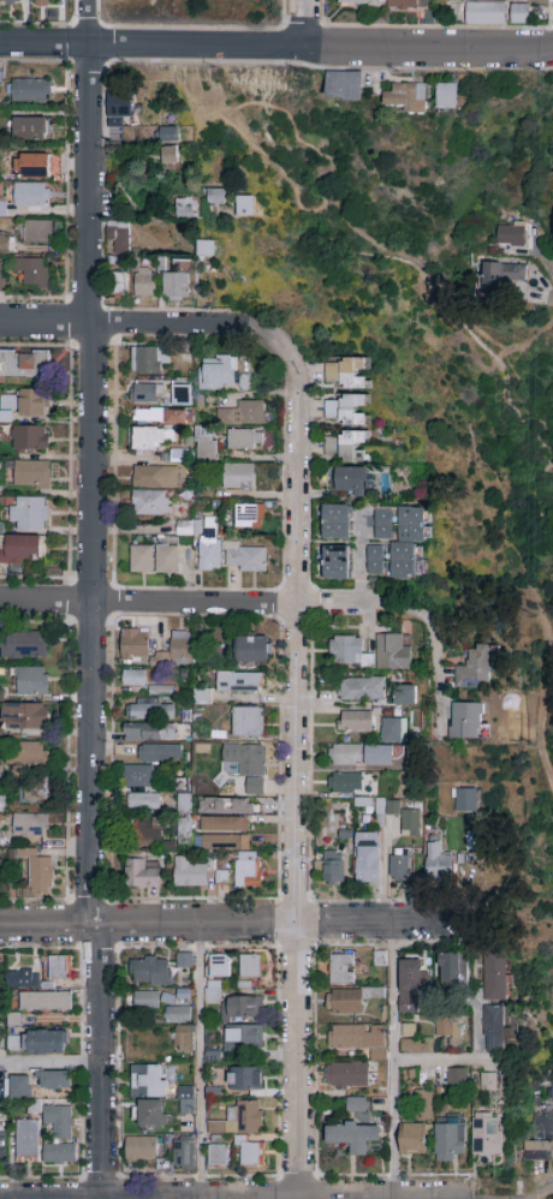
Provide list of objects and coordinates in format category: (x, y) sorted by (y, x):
building: (518, 0)
building: (10, 2)
building: (41, 2)
building: (362, 2)
building: (409, 5)
building: (484, 14)
building: (519, 14)
road: (87, 22)
road: (308, 22)
road: (275, 46)
building: (345, 87)
building: (31, 91)
building: (405, 97)
building: (446, 97)
building: (119, 108)
building: (31, 129)
building: (170, 136)
building: (168, 155)
building: (34, 166)
building: (31, 195)
building: (215, 197)
building: (186, 210)
building: (38, 232)
building: (511, 237)
building: (119, 238)
building: (4, 241)
building: (206, 247)
building: (183, 264)
road: (405, 264)
building: (35, 272)
building: (499, 274)
building: (0, 275)
building: (145, 282)
building: (118, 284)
building: (177, 287)
road: (147, 324)
road: (531, 339)
park: (423, 350)
building: (149, 360)
building: (25, 363)
building: (180, 363)
building: (345, 374)
building: (219, 375)
building: (147, 393)
building: (179, 394)
building: (26, 402)
building: (345, 410)
building: (243, 414)
building: (157, 416)
building: (30, 437)
building: (151, 437)
building: (245, 440)
building: (207, 443)
building: (345, 447)
road: (480, 461)
building: (32, 475)
building: (155, 477)
building: (238, 477)
building: (352, 482)
road: (90, 485)
building: (150, 503)
building: (29, 513)
building: (250, 517)
building: (338, 523)
building: (383, 524)
building: (412, 524)
building: (204, 544)
building: (22, 549)
building: (248, 559)
building: (141, 560)
building: (166, 560)
building: (376, 561)
building: (404, 561)
building: (337, 563)
road: (185, 603)
road: (400, 610)
building: (24, 645)
building: (135, 646)
building: (180, 649)
building: (252, 650)
building: (347, 652)
building: (392, 652)
building: (476, 669)
road: (438, 672)
building: (133, 678)
building: (30, 681)
building: (239, 684)
building: (159, 688)
building: (362, 690)
building: (406, 696)
building: (202, 697)
road: (542, 697)
building: (148, 710)
building: (25, 717)
building: (355, 721)
building: (466, 721)
building: (248, 722)
building: (393, 730)
building: (0, 732)
building: (149, 733)
building: (32, 754)
building: (163, 756)
building: (361, 756)
building: (250, 768)
road: (296, 769)
building: (137, 776)
building: (346, 782)
building: (35, 788)
building: (465, 800)
building: (143, 801)
building: (184, 804)
building: (225, 805)
building: (385, 811)
building: (411, 823)
building: (224, 824)
building: (29, 830)
building: (147, 830)
building: (182, 831)
building: (224, 843)
building: (367, 858)
building: (440, 864)
building: (331, 867)
building: (399, 869)
building: (248, 871)
building: (191, 872)
building: (38, 873)
building: (141, 875)
building: (221, 876)
building: (4, 877)
road: (231, 926)
building: (185, 960)
building: (219, 966)
building: (250, 966)
building: (61, 970)
building: (341, 970)
building: (150, 971)
building: (453, 971)
building: (23, 977)
building: (495, 978)
building: (410, 985)
building: (214, 992)
building: (349, 1000)
building: (145, 1001)
building: (46, 1002)
building: (242, 1008)
building: (178, 1015)
building: (13, 1020)
building: (448, 1028)
building: (494, 1028)
building: (349, 1037)
building: (409, 1038)
building: (183, 1039)
building: (243, 1039)
building: (13, 1043)
building: (46, 1043)
road: (444, 1058)
road: (198, 1062)
road: (393, 1062)
road: (101, 1063)
road: (50, 1064)
building: (346, 1076)
building: (457, 1078)
building: (245, 1079)
building: (55, 1081)
building: (149, 1081)
building: (489, 1082)
building: (18, 1087)
building: (209, 1093)
building: (186, 1100)
building: (423, 1102)
building: (356, 1105)
building: (149, 1115)
building: (242, 1119)
building: (59, 1121)
building: (352, 1135)
building: (487, 1135)
building: (412, 1139)
building: (540, 1139)
building: (28, 1141)
building: (451, 1143)
building: (141, 1150)
building: (60, 1155)
building: (219, 1155)
building: (254, 1155)
building: (184, 1156)
road: (541, 1194)

